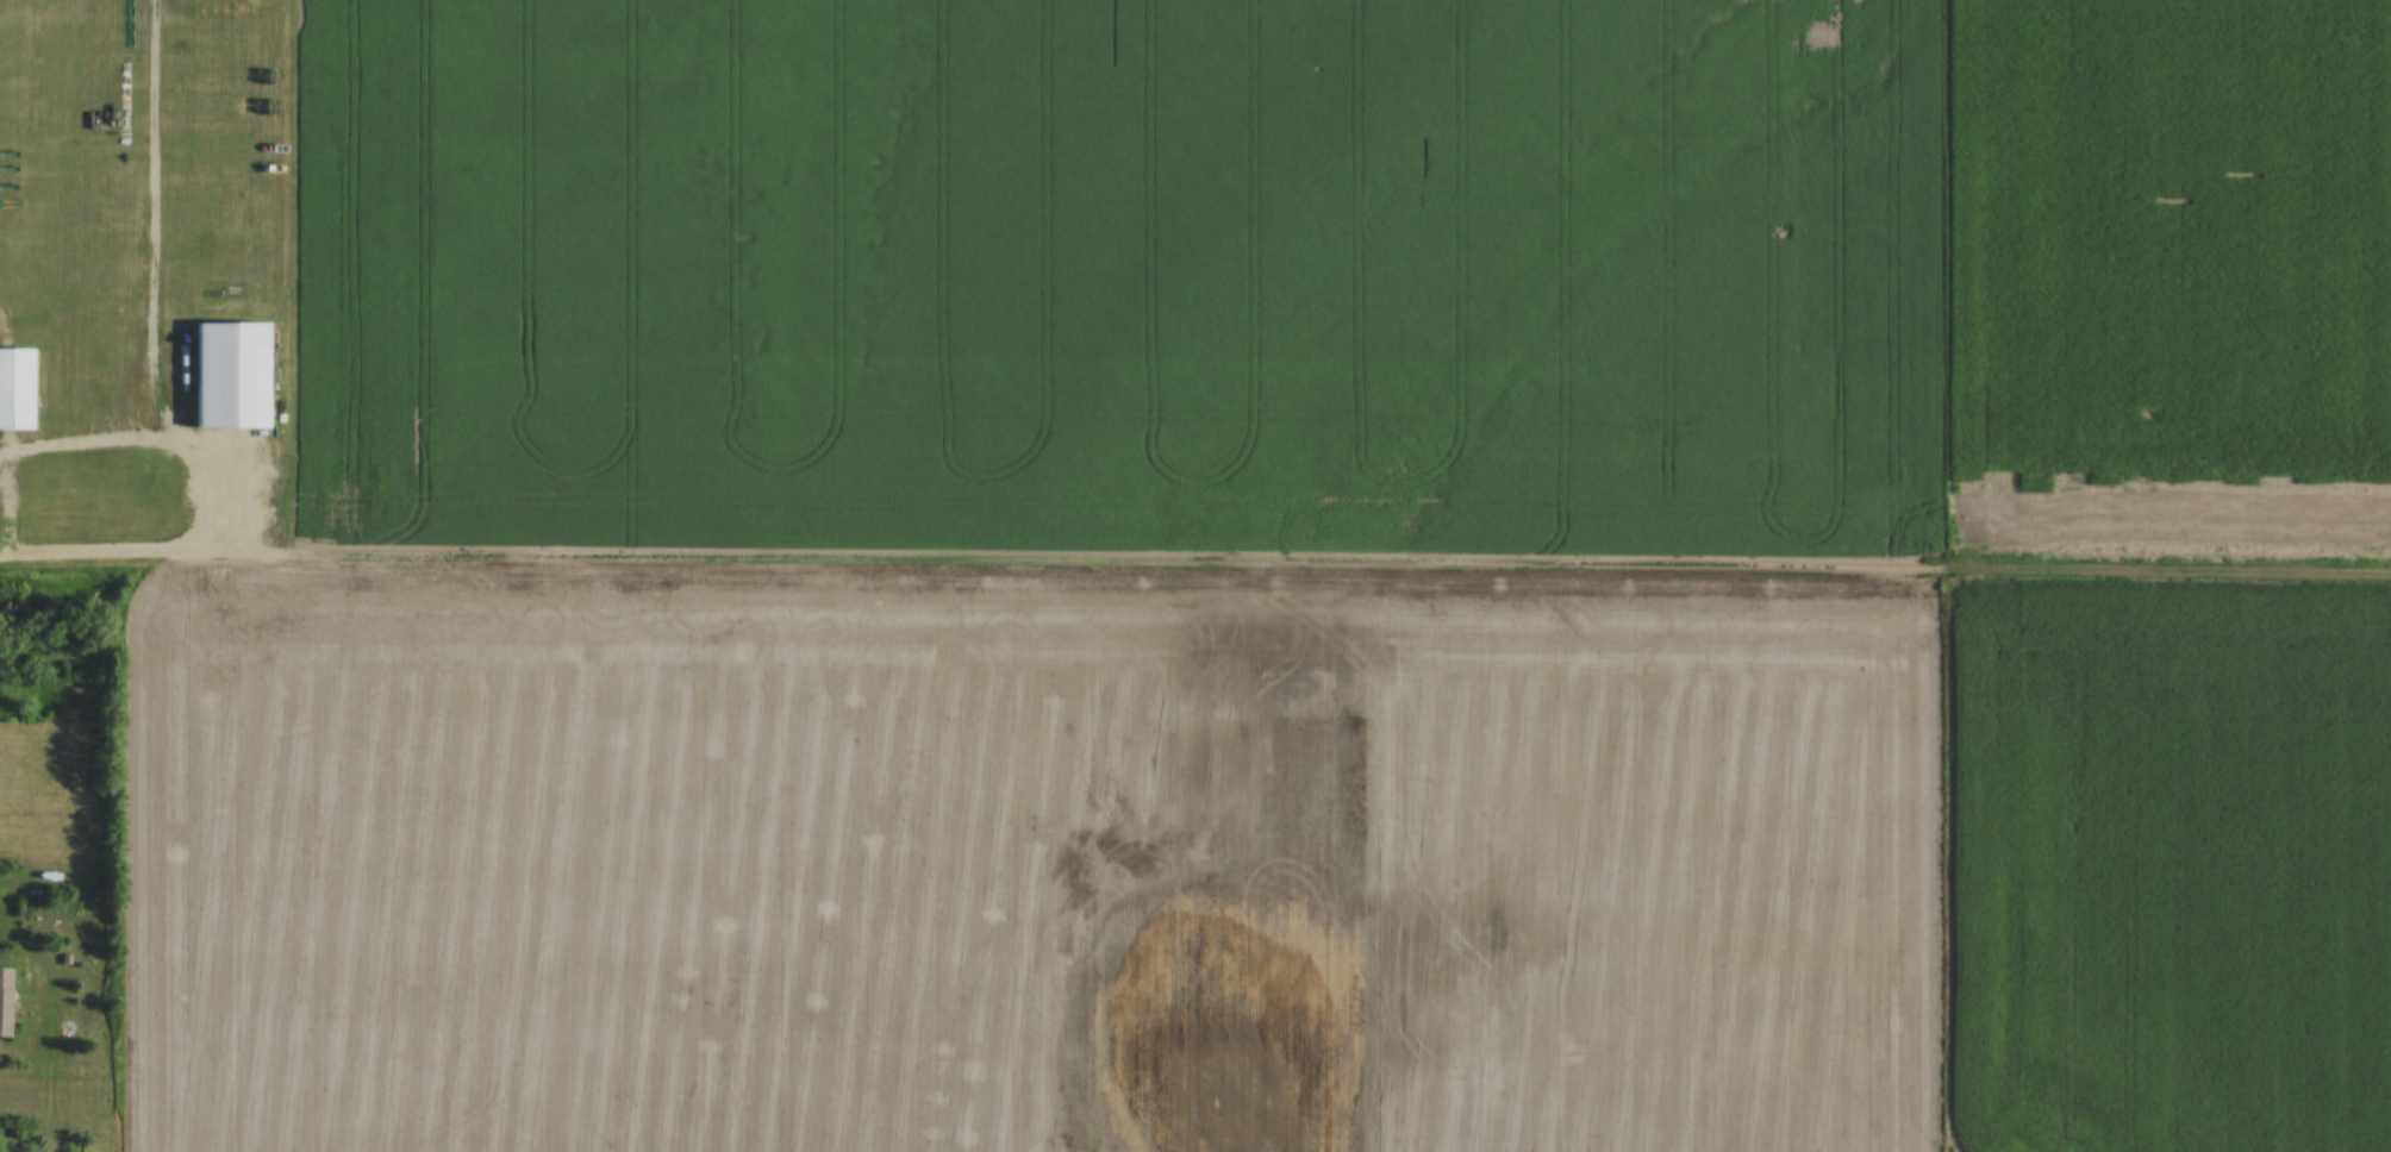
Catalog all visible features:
building: (229, 375)
building: (14, 388)
road: (1194, 566)
building: (0, 959)
building: (2, 1000)

